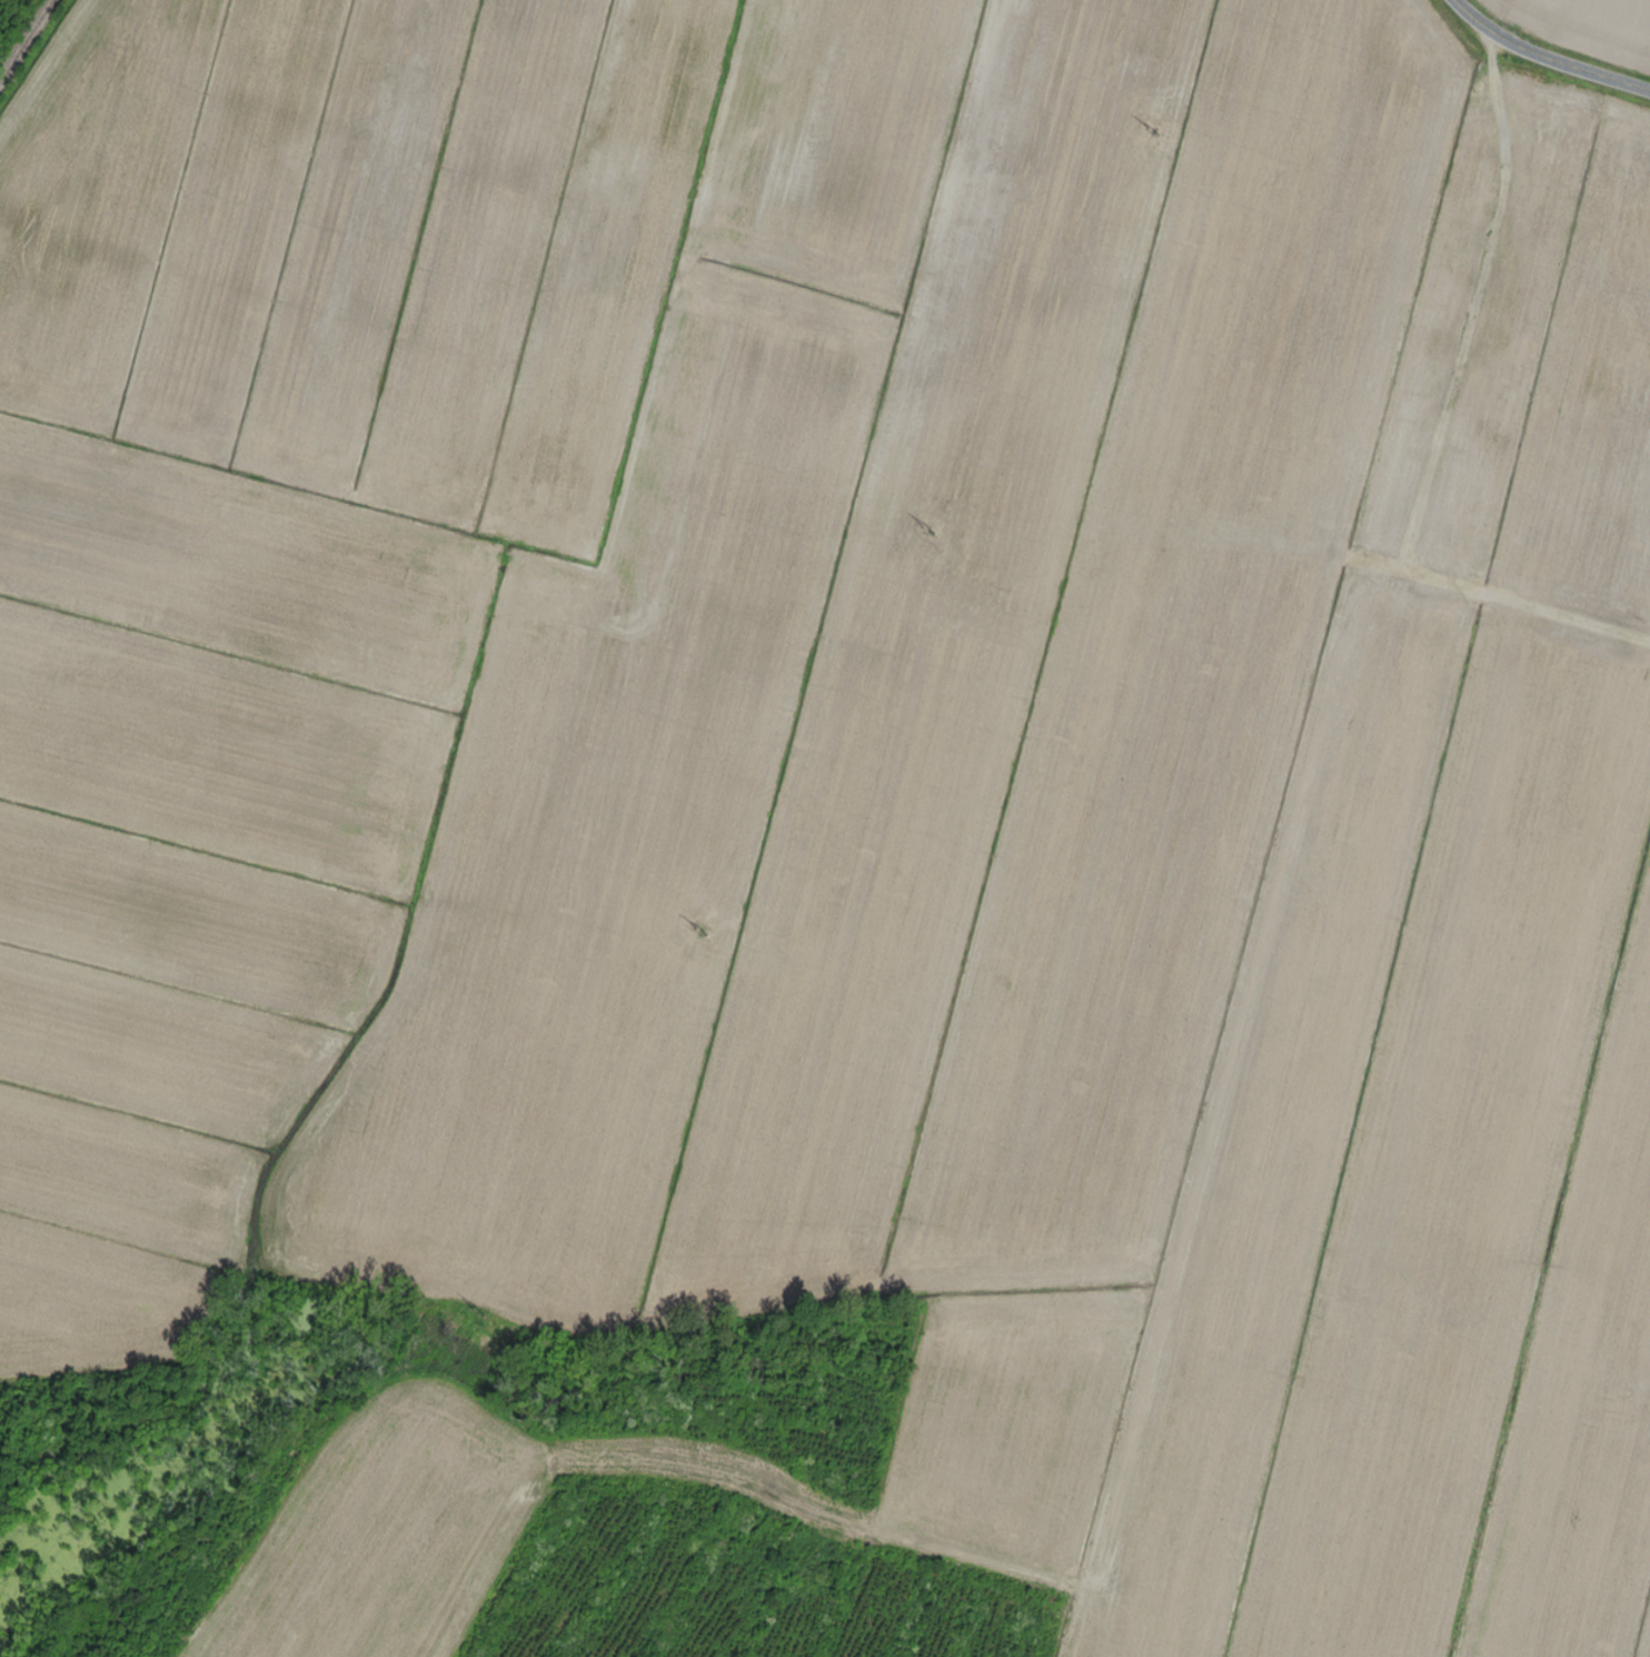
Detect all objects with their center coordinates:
railway: (27, 41)
road: (1540, 67)
power tower: (1151, 130)
building: (1548, 172)
building: (1450, 246)
building: (1507, 384)
power tower: (927, 527)
power tower: (699, 932)
power tower: (476, 1311)

